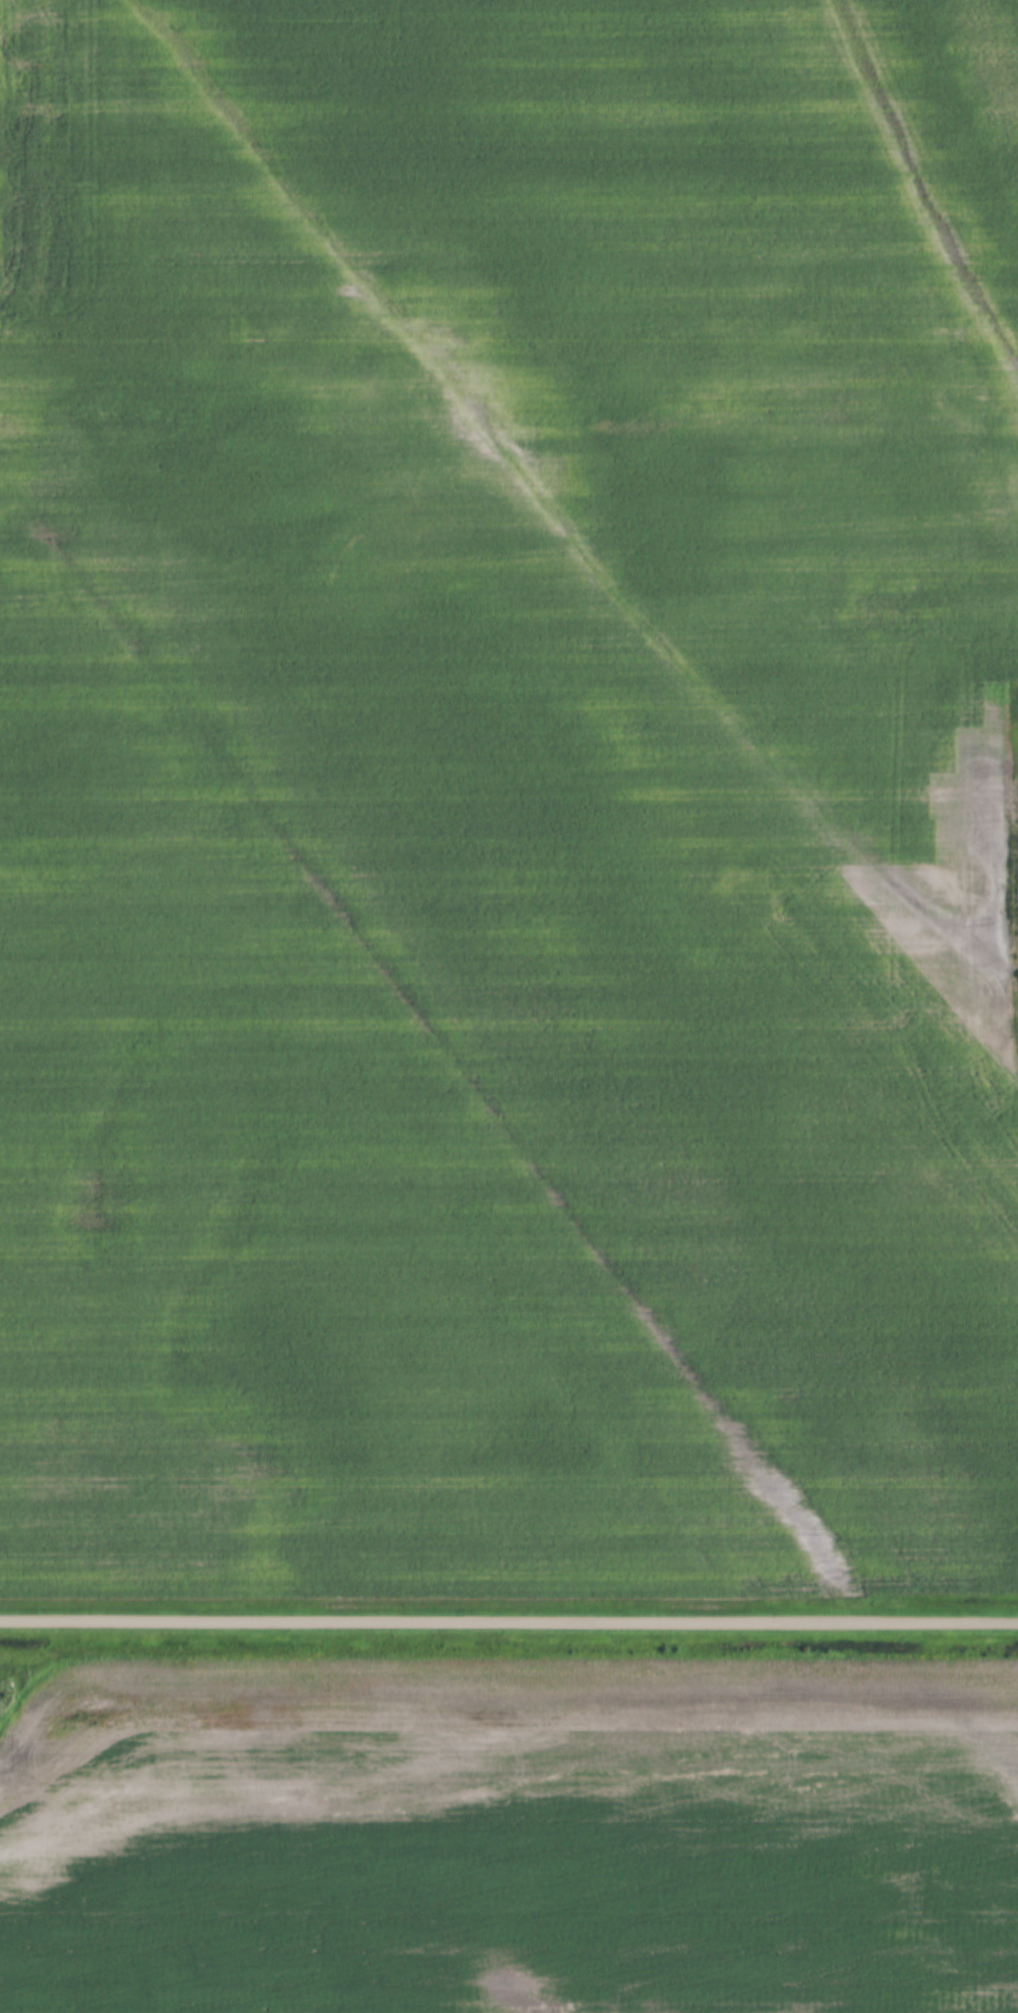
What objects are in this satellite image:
road: (508, 1623)

